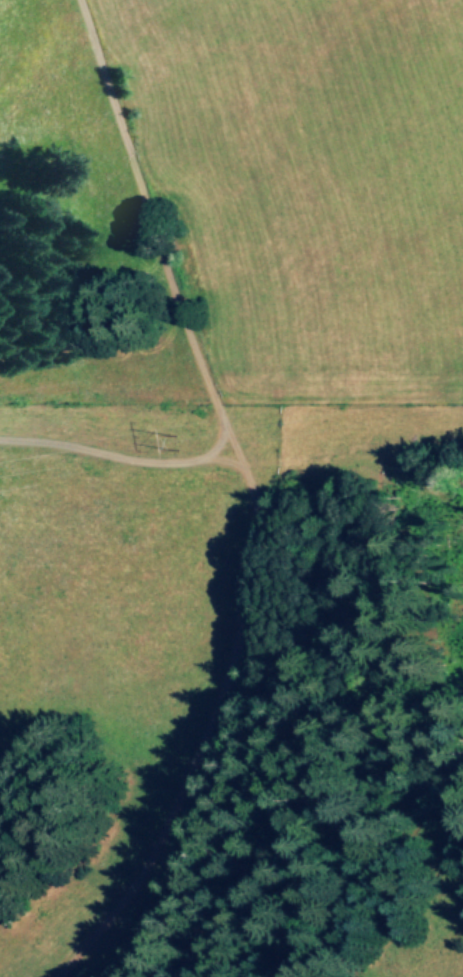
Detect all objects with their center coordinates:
power tower: (192, 440)

